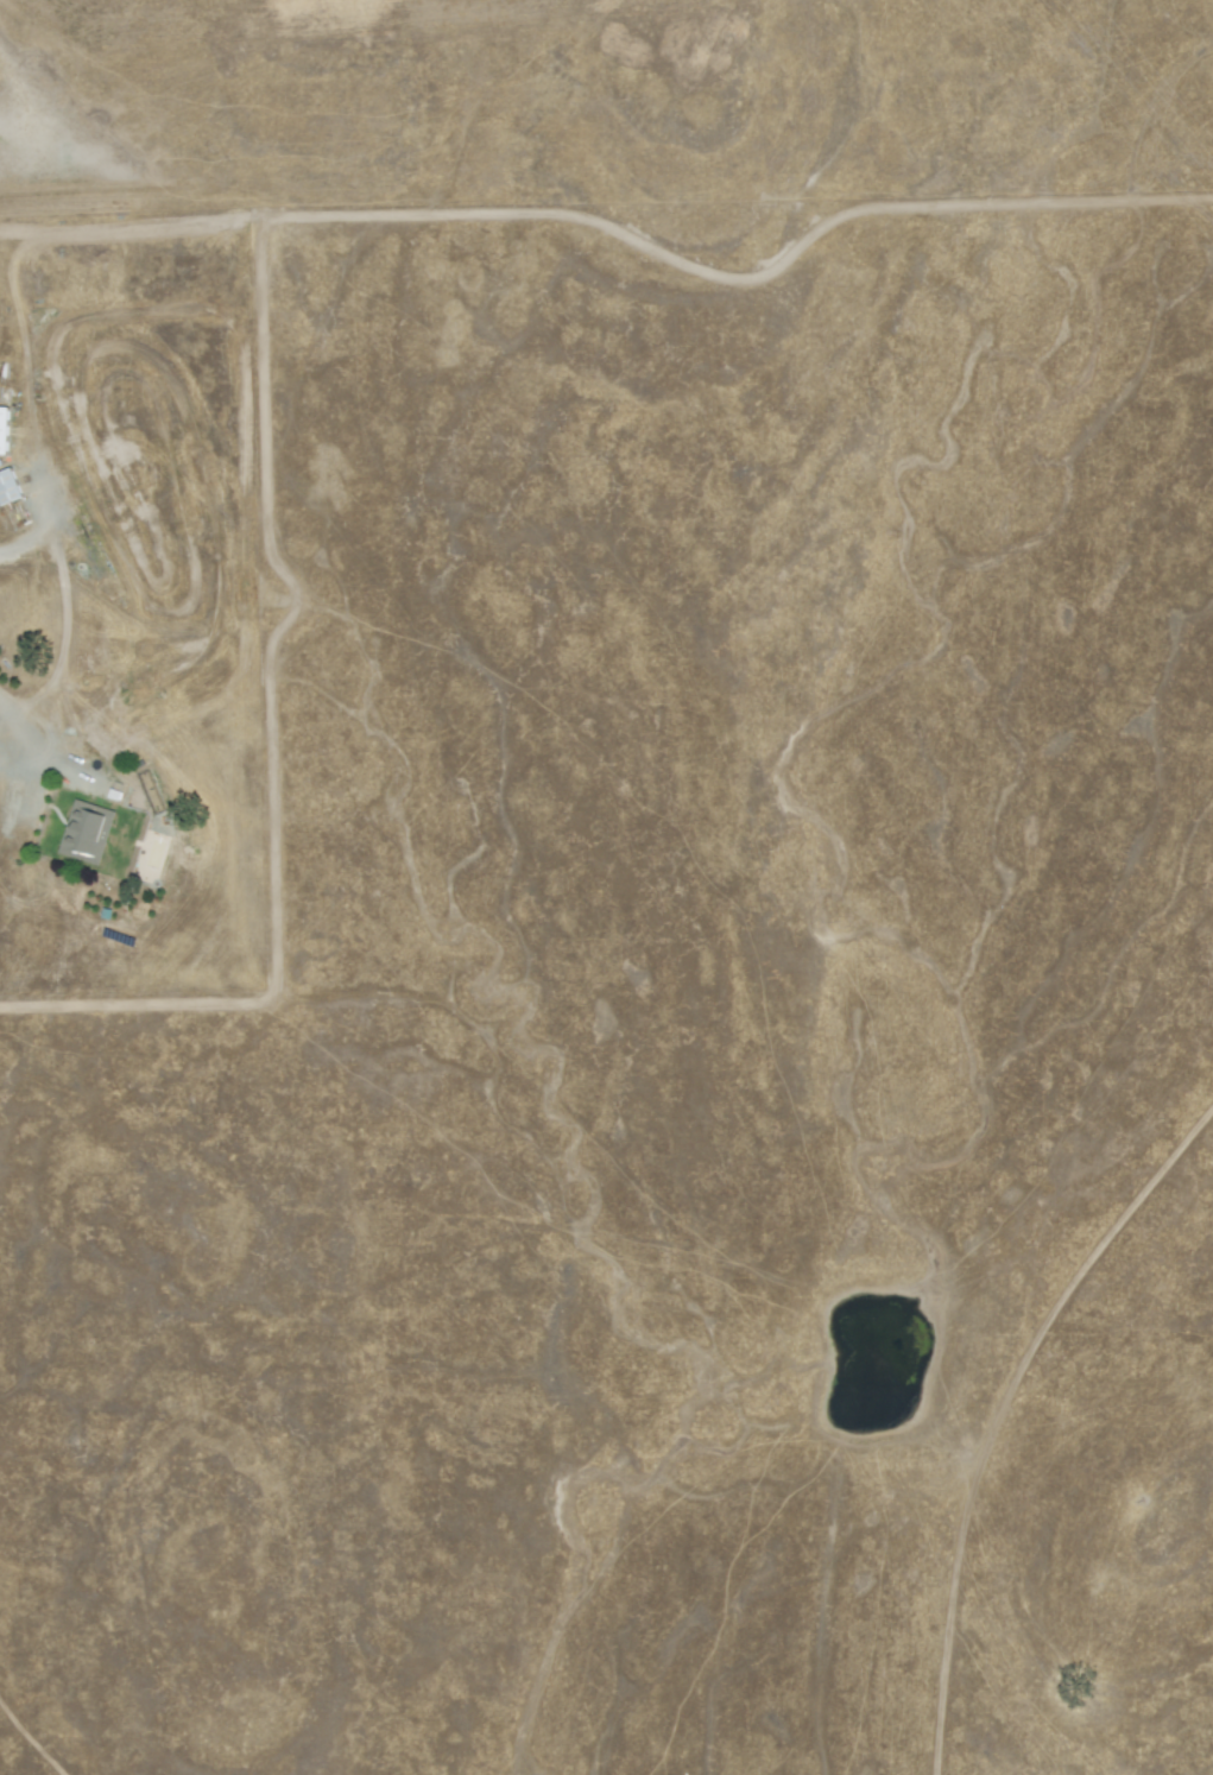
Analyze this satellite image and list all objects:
building: (0, 428)
building: (6, 487)
road: (40, 512)
road: (63, 627)
road: (34, 750)

